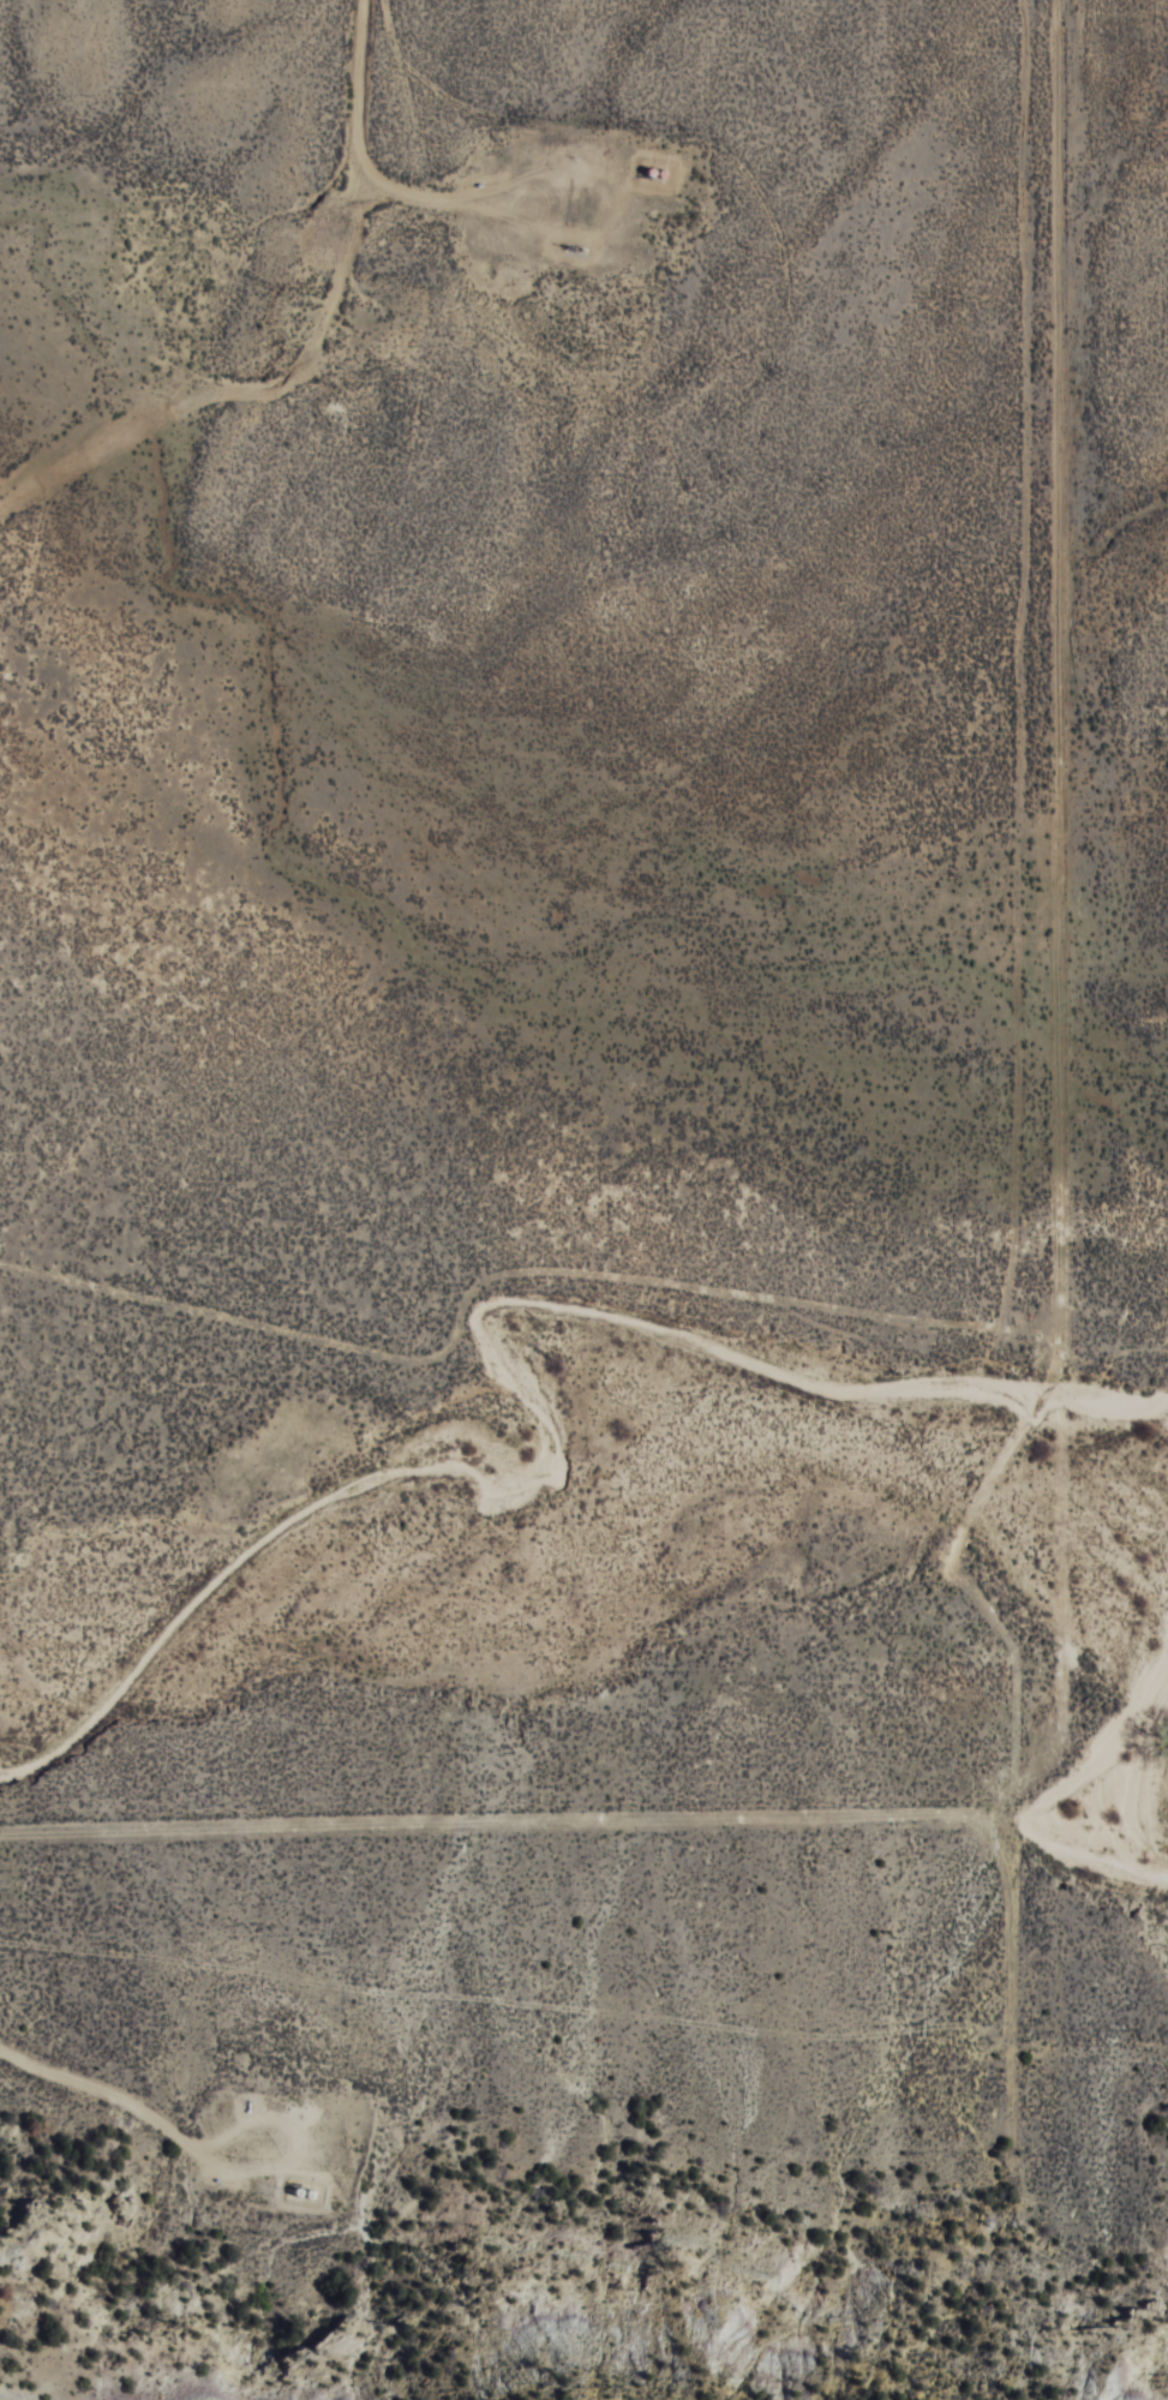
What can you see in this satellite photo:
road: (349, 331)
river: (581, 1438)
road: (513, 1980)

